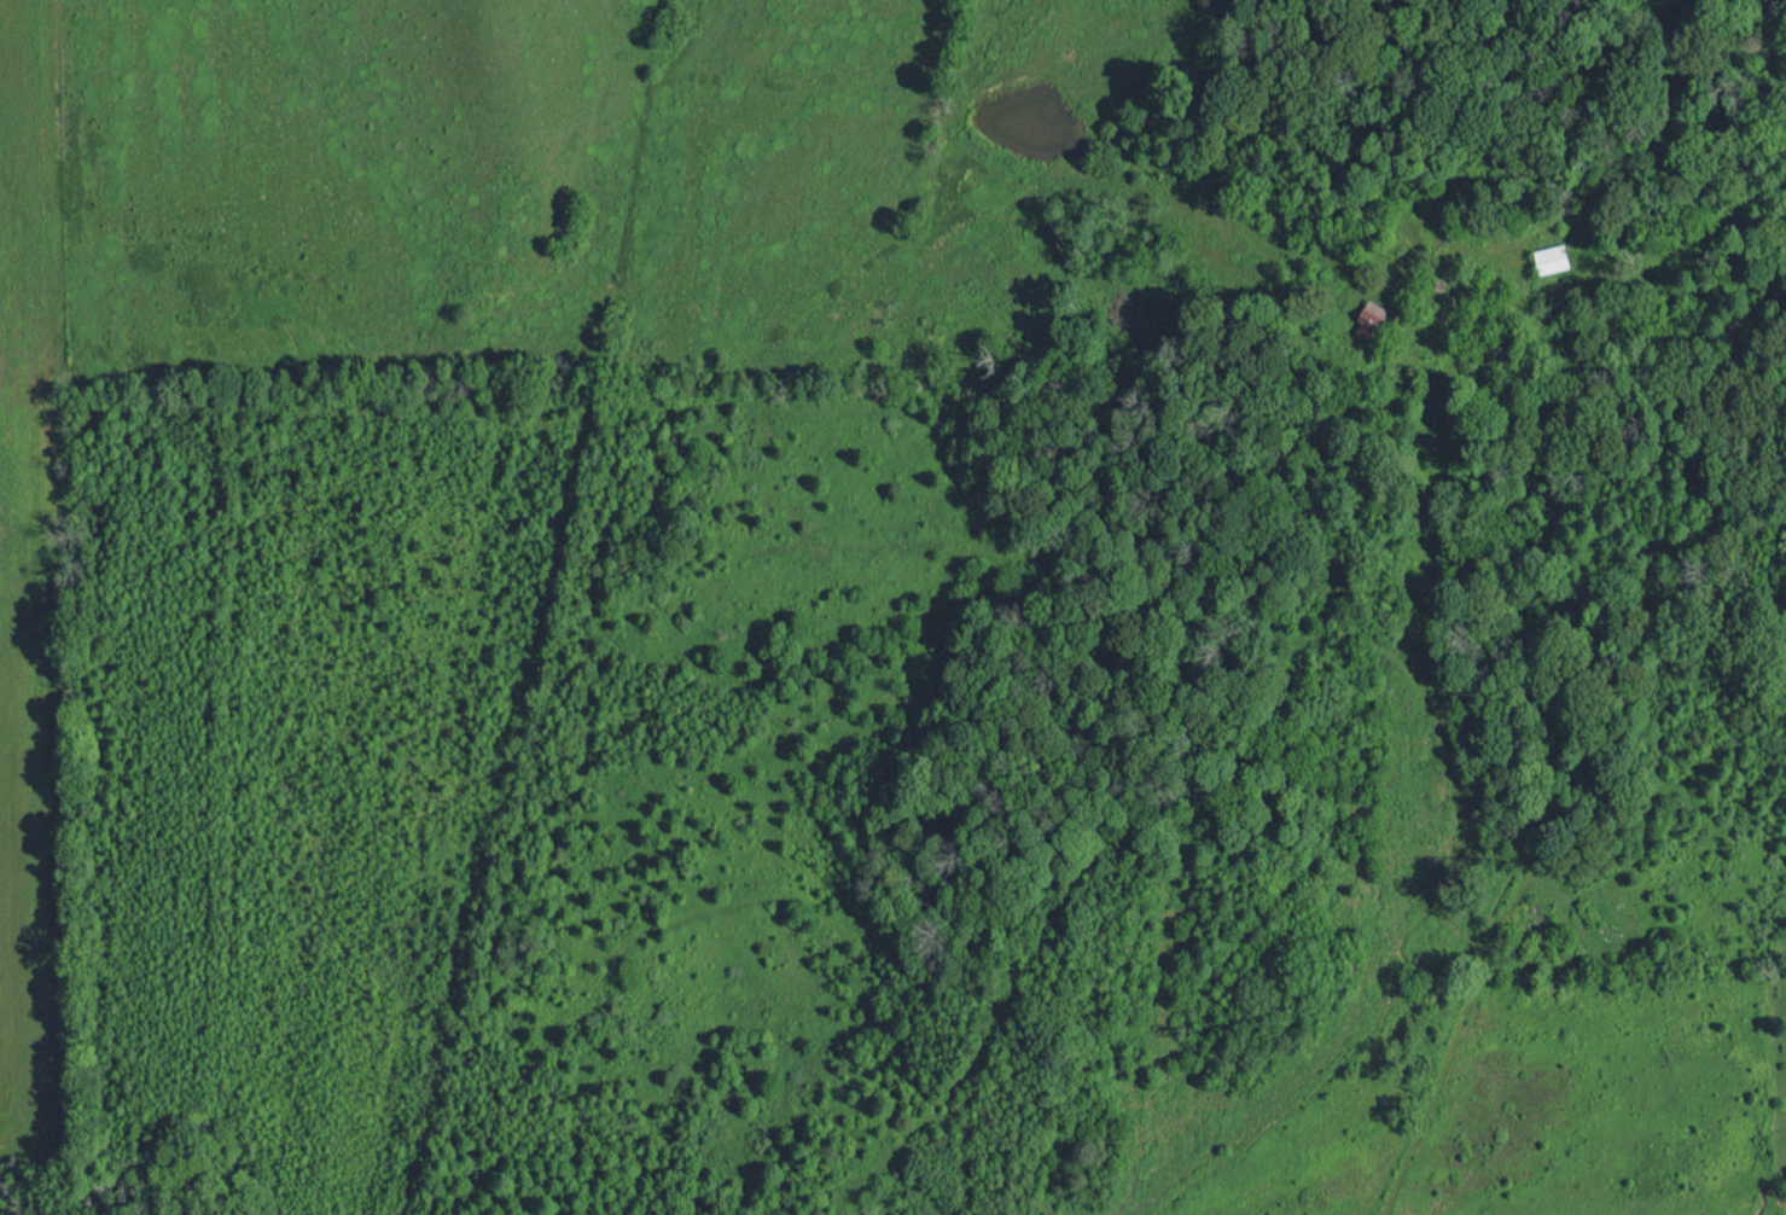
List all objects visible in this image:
building: (1371, 315)

